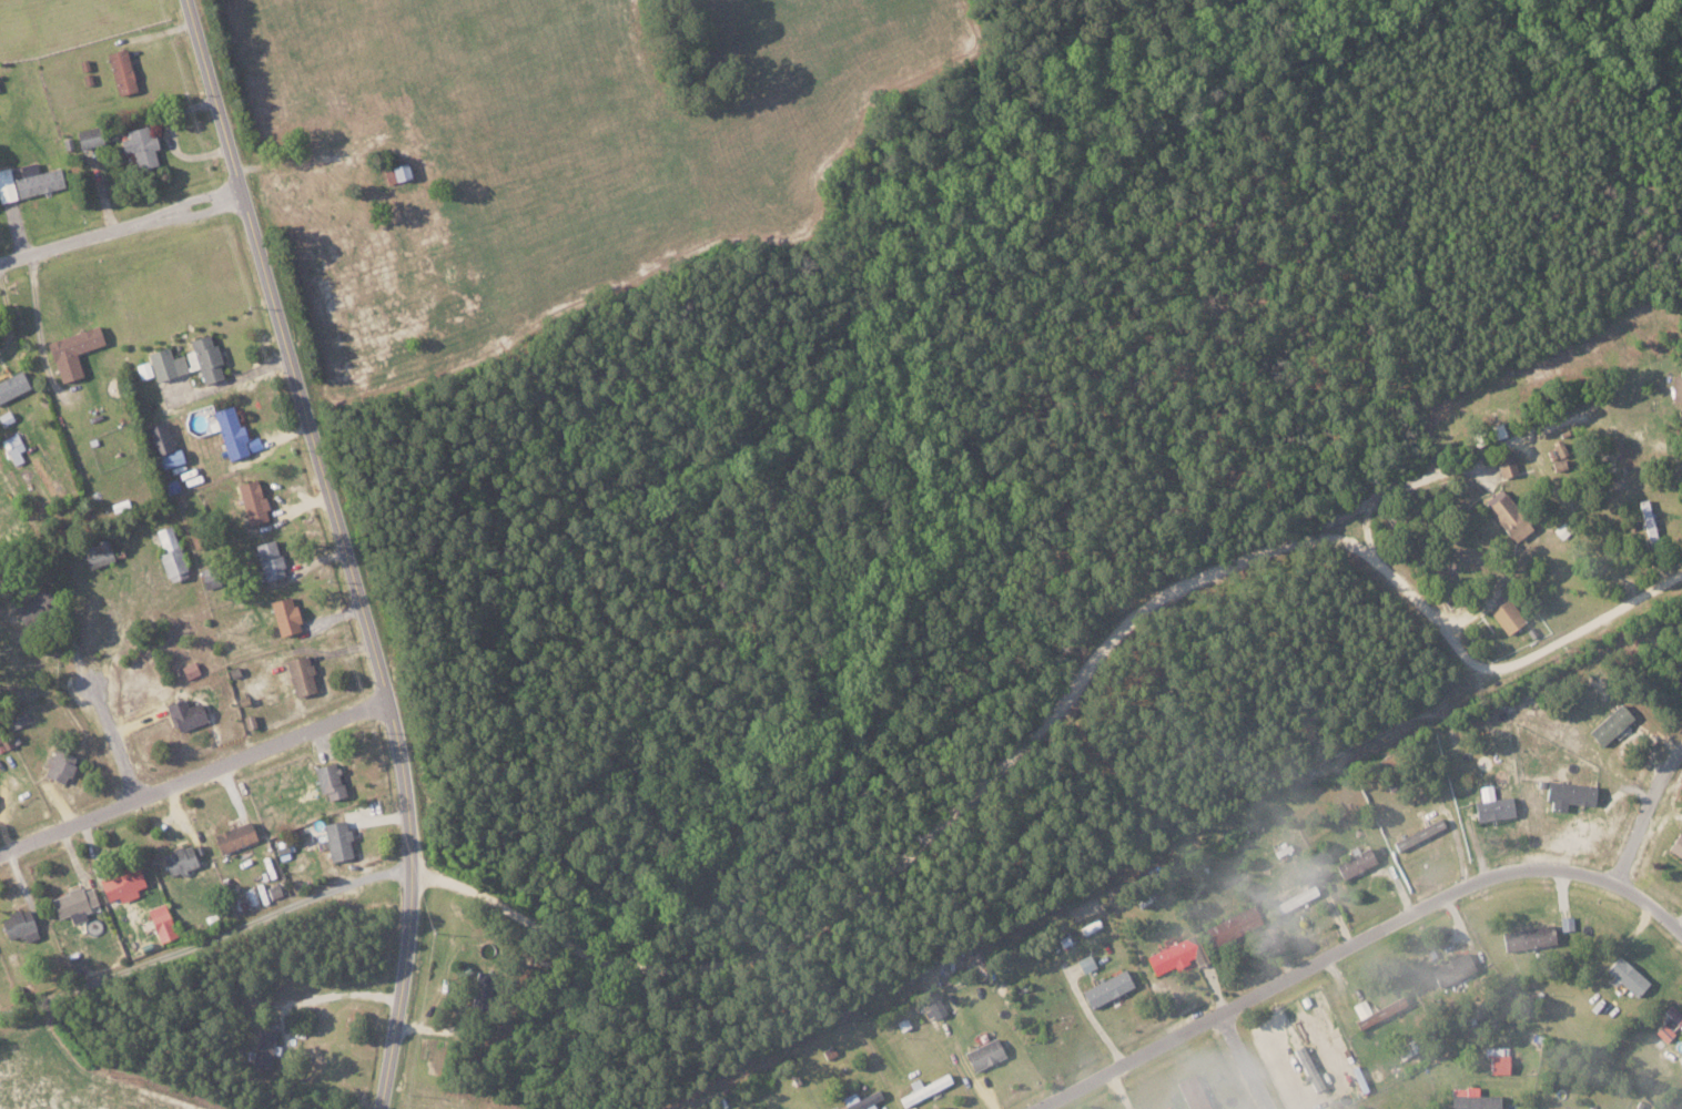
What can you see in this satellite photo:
building: (120, 71)
building: (87, 138)
building: (139, 147)
road: (312, 160)
building: (398, 172)
building: (36, 181)
building: (6, 185)
road: (121, 227)
building: (70, 352)
building: (205, 358)
building: (160, 365)
building: (12, 385)
building: (1676, 388)
building: (4, 419)
building: (232, 435)
building: (156, 438)
building: (12, 448)
building: (1559, 449)
building: (166, 459)
building: (1557, 460)
building: (1506, 464)
road: (1409, 482)
building: (252, 501)
building: (1507, 516)
building: (1646, 519)
road: (345, 548)
building: (97, 553)
building: (169, 554)
building: (267, 560)
road: (1478, 606)
building: (283, 613)
building: (1506, 615)
road: (1681, 662)
road: (1681, 665)
building: (189, 669)
building: (300, 673)
road: (1067, 702)
road: (1489, 710)
building: (183, 713)
building: (17, 720)
road: (103, 723)
building: (1610, 723)
building: (1, 744)
building: (57, 764)
road: (194, 775)
building: (328, 780)
building: (1568, 793)
building: (1493, 807)
road: (1650, 817)
building: (1418, 833)
building: (233, 835)
building: (336, 838)
building: (1676, 844)
building: (178, 858)
building: (1355, 862)
building: (1681, 865)
building: (120, 883)
building: (1145, 895)
building: (1295, 898)
building: (71, 903)
road: (1650, 910)
building: (160, 922)
building: (17, 924)
building: (1232, 924)
building: (1091, 926)
building: (1528, 936)
road: (205, 945)
building: (1175, 954)
road: (1323, 962)
building: (1085, 963)
building: (74, 965)
building: (1451, 968)
building: (1627, 975)
building: (484, 986)
building: (1106, 987)
building: (1361, 1006)
building: (1380, 1011)
building: (1674, 1014)
building: (1664, 1031)
building: (263, 1047)
building: (1407, 1049)
building: (984, 1054)
building: (1497, 1059)
road: (1248, 1062)
building: (1310, 1068)
building: (923, 1088)
building: (1193, 1091)
building: (1472, 1099)
building: (861, 1100)

